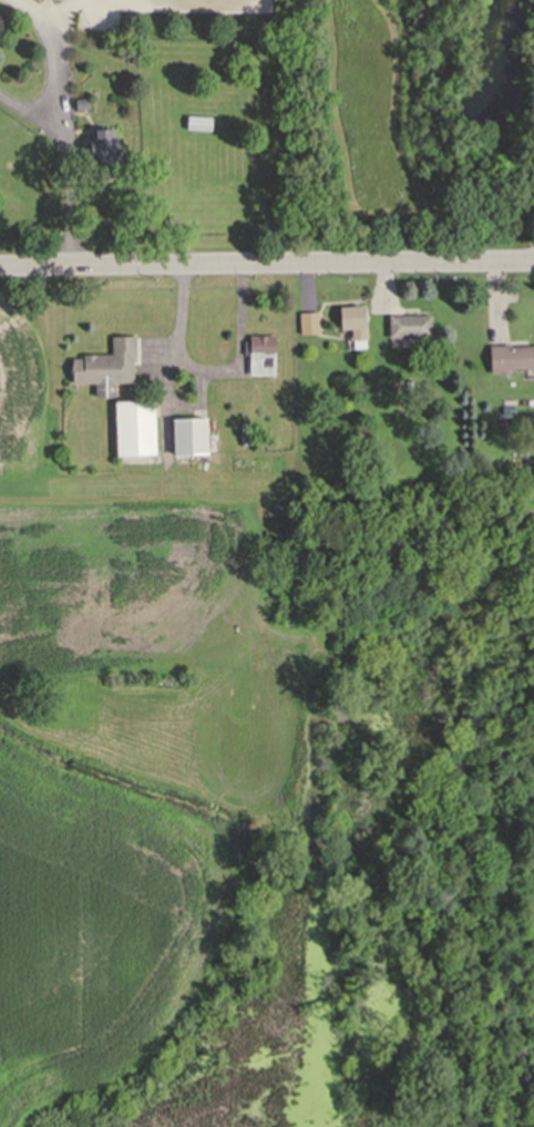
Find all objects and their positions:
road: (1, 45)
building: (81, 105)
building: (196, 123)
road: (62, 150)
building: (101, 155)
road: (266, 267)
building: (308, 320)
building: (352, 320)
building: (409, 328)
building: (260, 357)
building: (510, 358)
building: (105, 363)
building: (134, 427)
building: (185, 440)

